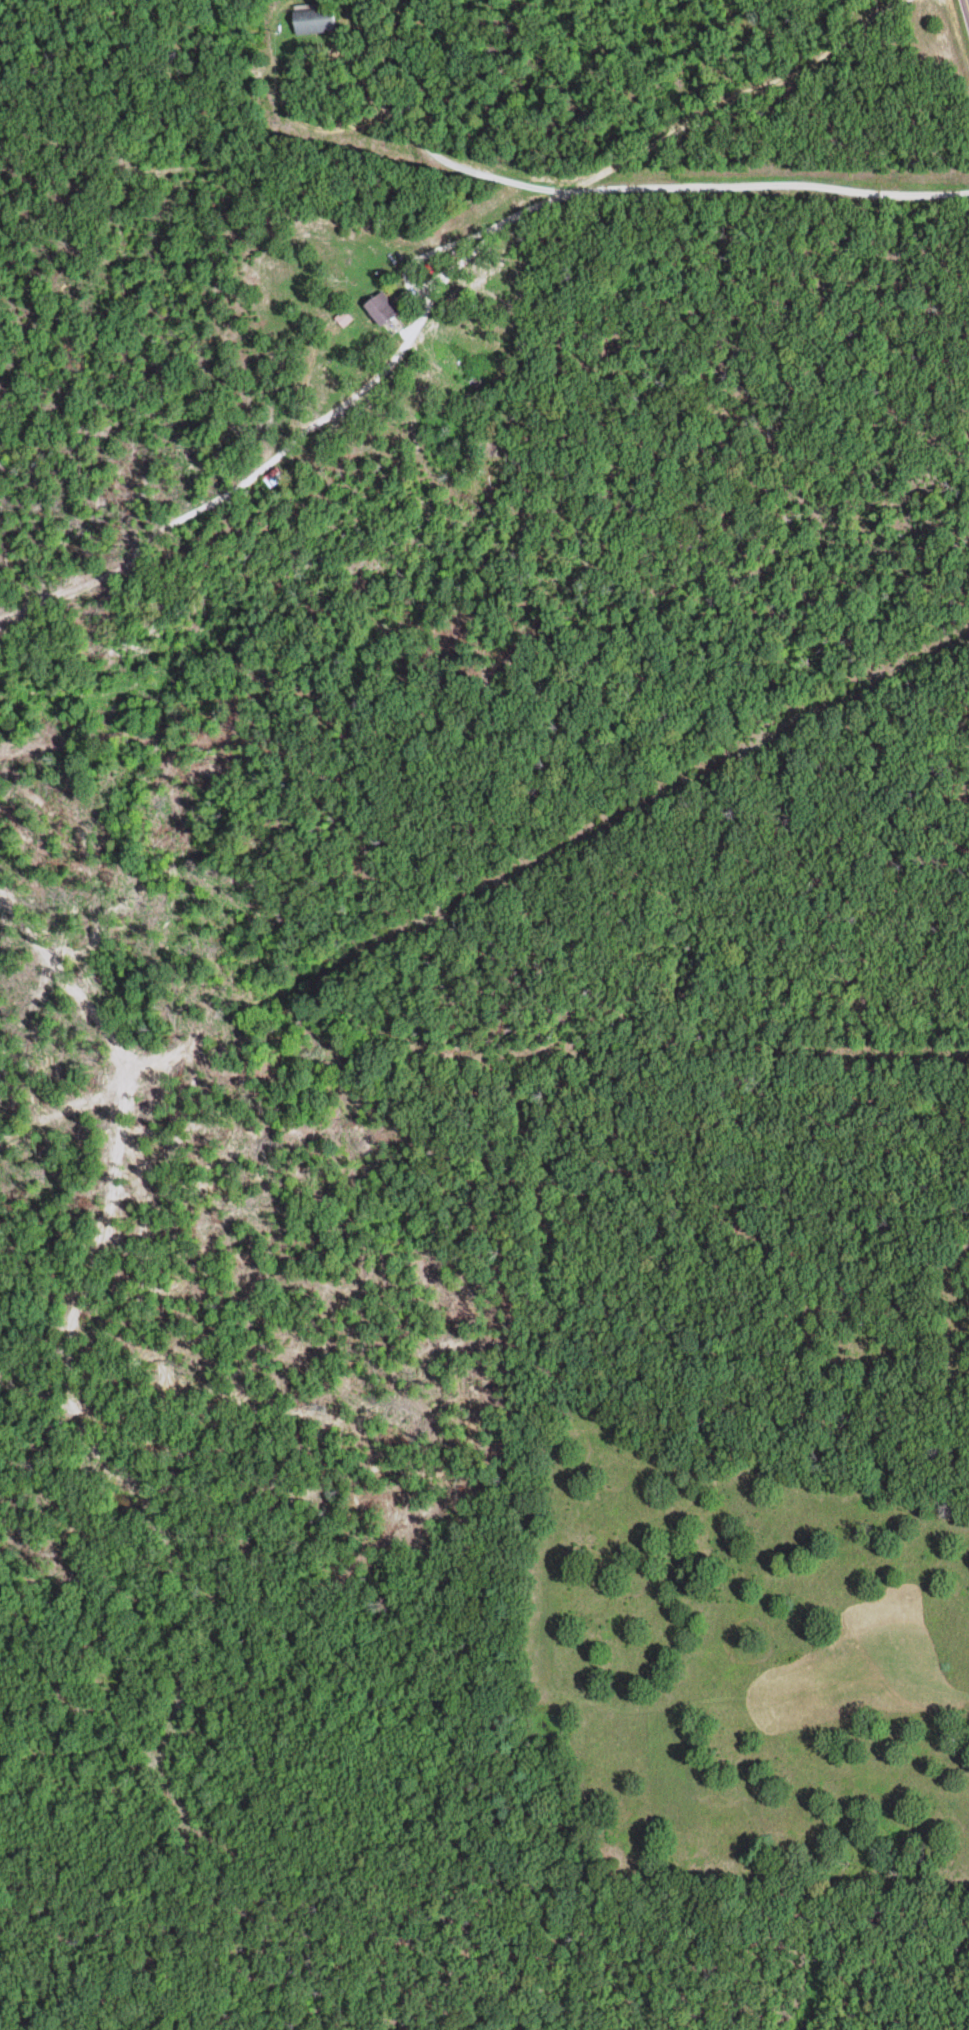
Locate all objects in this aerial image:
road: (966, 10)
building: (317, 21)
building: (385, 308)
building: (348, 318)
building: (279, 477)

